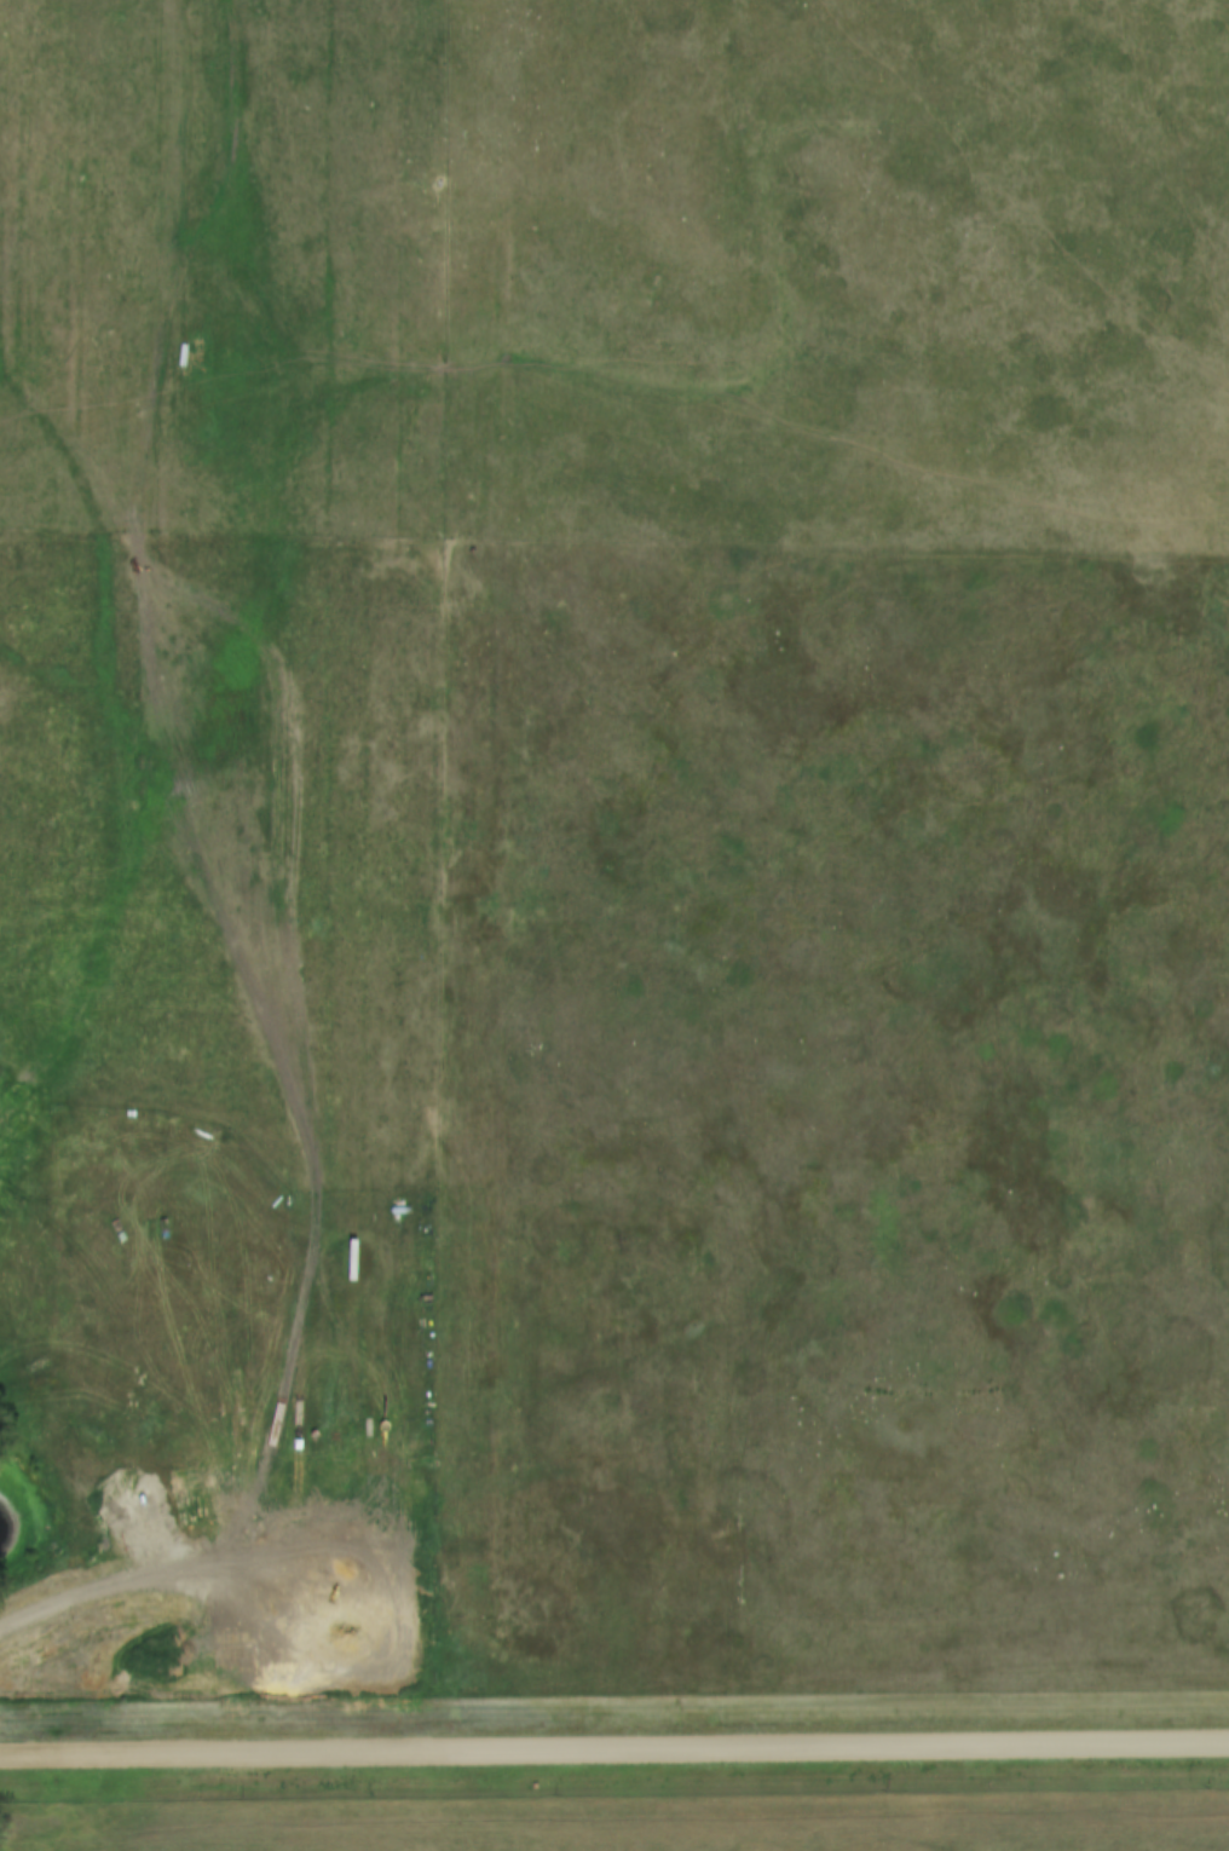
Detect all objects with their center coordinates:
road: (614, 1754)

